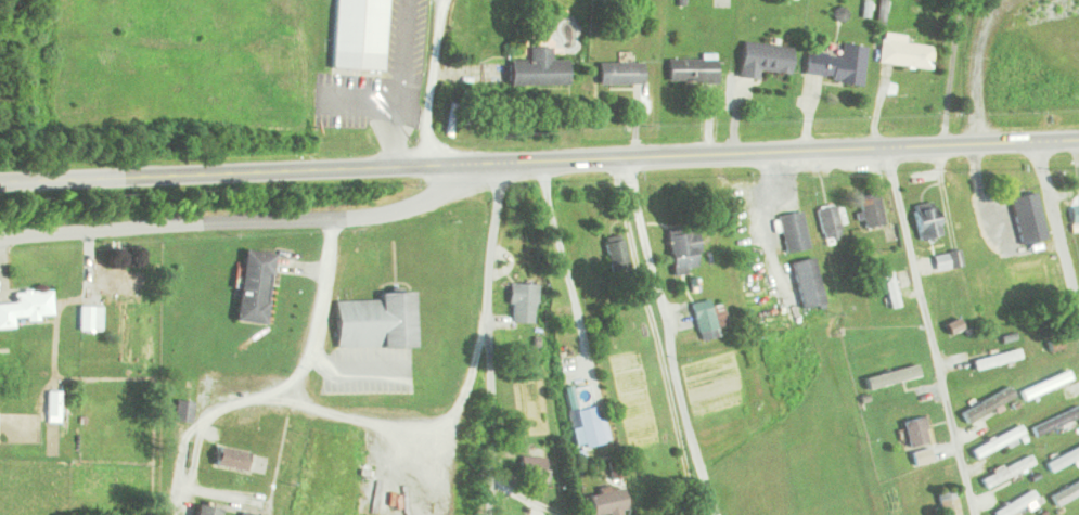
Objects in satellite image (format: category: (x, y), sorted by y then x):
building: (356, 35)
building: (902, 51)
building: (835, 64)
building: (537, 69)
building: (690, 69)
building: (618, 73)
road: (429, 82)
road: (793, 155)
road: (254, 173)
building: (870, 209)
building: (1014, 213)
building: (1074, 216)
road: (240, 220)
building: (827, 221)
building: (925, 222)
road: (1058, 224)
building: (792, 231)
building: (682, 249)
building: (615, 255)
building: (806, 283)
building: (252, 287)
building: (889, 289)
building: (519, 304)
building: (25, 307)
building: (706, 318)
building: (90, 319)
building: (373, 322)
building: (952, 326)
road: (929, 334)
road: (665, 337)
road: (486, 338)
building: (995, 359)
road: (300, 370)
building: (897, 382)
building: (1043, 385)
building: (51, 403)
building: (986, 404)
building: (180, 411)
building: (590, 427)
building: (915, 432)
building: (995, 441)
building: (228, 459)
building: (1059, 461)
building: (534, 469)
building: (613, 469)
building: (1065, 493)
building: (605, 502)
building: (946, 503)
building: (1015, 504)
building: (203, 511)
building: (242, 514)

